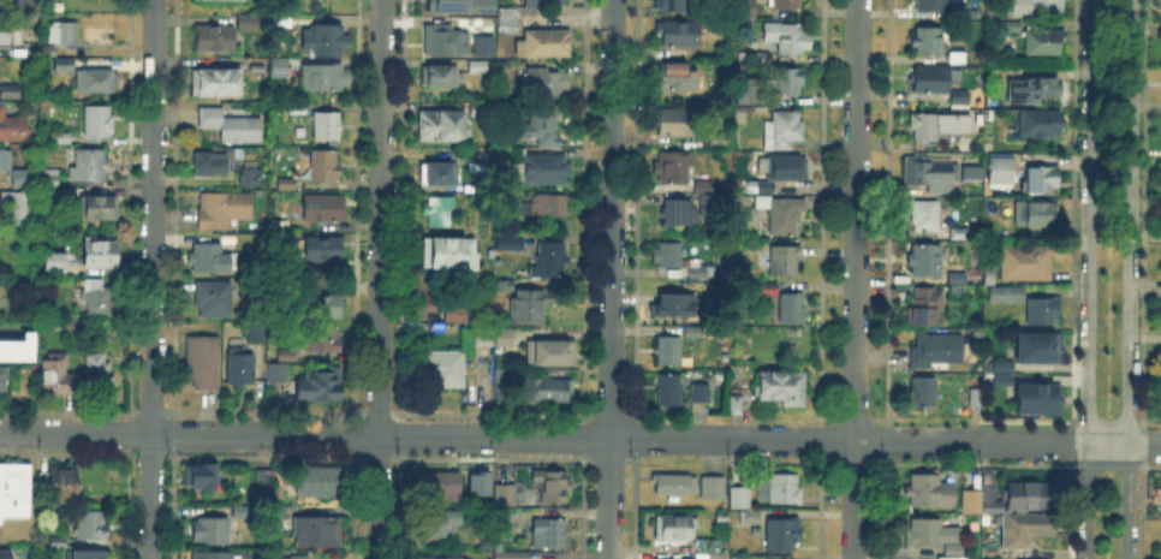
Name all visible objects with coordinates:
building: (540, 2)
building: (786, 4)
building: (462, 6)
building: (673, 6)
building: (929, 6)
building: (1035, 7)
building: (744, 8)
building: (279, 13)
building: (960, 14)
building: (244, 19)
building: (508, 19)
building: (1012, 28)
building: (65, 35)
building: (678, 35)
building: (210, 36)
building: (12, 38)
building: (791, 41)
building: (323, 42)
building: (445, 42)
building: (929, 42)
building: (544, 44)
building: (1043, 44)
building: (484, 47)
building: (958, 59)
building: (64, 66)
building: (478, 67)
building: (279, 69)
building: (442, 75)
building: (675, 78)
building: (323, 79)
building: (933, 81)
building: (96, 82)
building: (215, 82)
building: (786, 83)
building: (544, 85)
building: (746, 89)
building: (1040, 89)
building: (11, 93)
building: (722, 95)
building: (960, 100)
building: (294, 107)
building: (478, 109)
building: (99, 121)
building: (679, 123)
building: (544, 124)
building: (11, 125)
building: (443, 125)
building: (231, 126)
building: (924, 126)
building: (1041, 126)
building: (327, 129)
building: (784, 131)
building: (721, 137)
building: (61, 139)
building: (549, 141)
building: (951, 145)
building: (516, 151)
building: (6, 160)
building: (90, 166)
building: (212, 166)
building: (325, 168)
building: (673, 168)
building: (787, 170)
building: (966, 170)
building: (1002, 170)
building: (541, 171)
building: (1160, 173)
building: (930, 174)
building: (251, 176)
building: (439, 176)
building: (25, 179)
building: (50, 179)
building: (285, 182)
building: (1040, 182)
building: (704, 188)
building: (768, 188)
building: (703, 203)
building: (12, 206)
building: (549, 206)
park: (1108, 207)
building: (434, 208)
building: (97, 209)
building: (325, 209)
building: (224, 210)
building: (680, 213)
building: (1036, 214)
building: (784, 215)
building: (934, 221)
building: (286, 225)
building: (510, 244)
building: (318, 246)
building: (446, 251)
building: (99, 254)
building: (669, 256)
building: (212, 260)
building: (550, 260)
building: (1026, 261)
building: (785, 262)
building: (927, 262)
building: (55, 264)
building: (698, 268)
building: (0, 270)
building: (990, 278)
road: (151, 279)
road: (379, 279)
road: (611, 279)
road: (855, 279)
road: (1086, 279)
road: (1129, 279)
building: (958, 280)
building: (504, 285)
building: (767, 290)
building: (1007, 293)
building: (94, 298)
building: (214, 299)
building: (927, 305)
building: (322, 307)
building: (529, 307)
building: (677, 307)
building: (792, 309)
building: (452, 310)
building: (1047, 310)
building: (693, 332)
building: (258, 334)
building: (486, 335)
building: (978, 335)
building: (322, 337)
building: (505, 339)
building: (14, 346)
building: (1035, 346)
building: (668, 351)
building: (937, 351)
building: (286, 355)
building: (550, 355)
building: (203, 362)
building: (999, 364)
building: (99, 365)
building: (240, 367)
building: (446, 368)
building: (278, 373)
building: (58, 375)
building: (999, 377)
building: (2, 379)
building: (320, 387)
building: (784, 388)
building: (544, 391)
building: (668, 391)
building: (701, 394)
building: (924, 394)
building: (1035, 397)
building: (977, 398)
building: (733, 403)
road: (304, 435)
road: (732, 440)
road: (913, 441)
road: (1066, 441)
building: (201, 478)
building: (266, 478)
building: (475, 481)
building: (61, 483)
building: (320, 483)
building: (437, 486)
building: (674, 487)
building: (554, 488)
building: (714, 489)
building: (14, 490)
building: (785, 490)
building: (930, 492)
building: (506, 495)
building: (1030, 496)
building: (740, 499)
building: (968, 499)
building: (987, 499)
building: (244, 512)
building: (278, 513)
building: (506, 515)
park: (1106, 516)
building: (722, 517)
building: (751, 518)
building: (437, 524)
building: (93, 528)
building: (677, 529)
building: (1025, 530)
building: (318, 531)
building: (212, 533)
building: (550, 534)
building: (931, 534)
building: (784, 536)
building: (58, 541)
building: (712, 547)
building: (954, 549)
building: (988, 549)
building: (5, 555)
building: (88, 555)
building: (213, 555)
building: (513, 555)
building: (440, 557)
building: (300, 558)
building: (709, 558)

